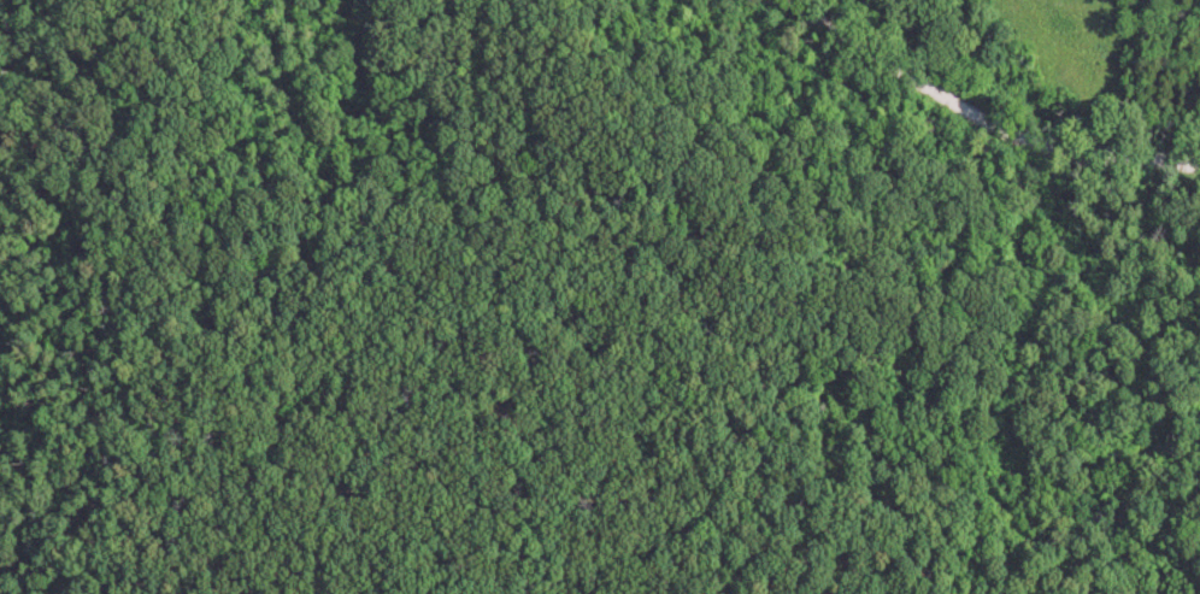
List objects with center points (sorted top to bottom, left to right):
road: (1024, 83)

